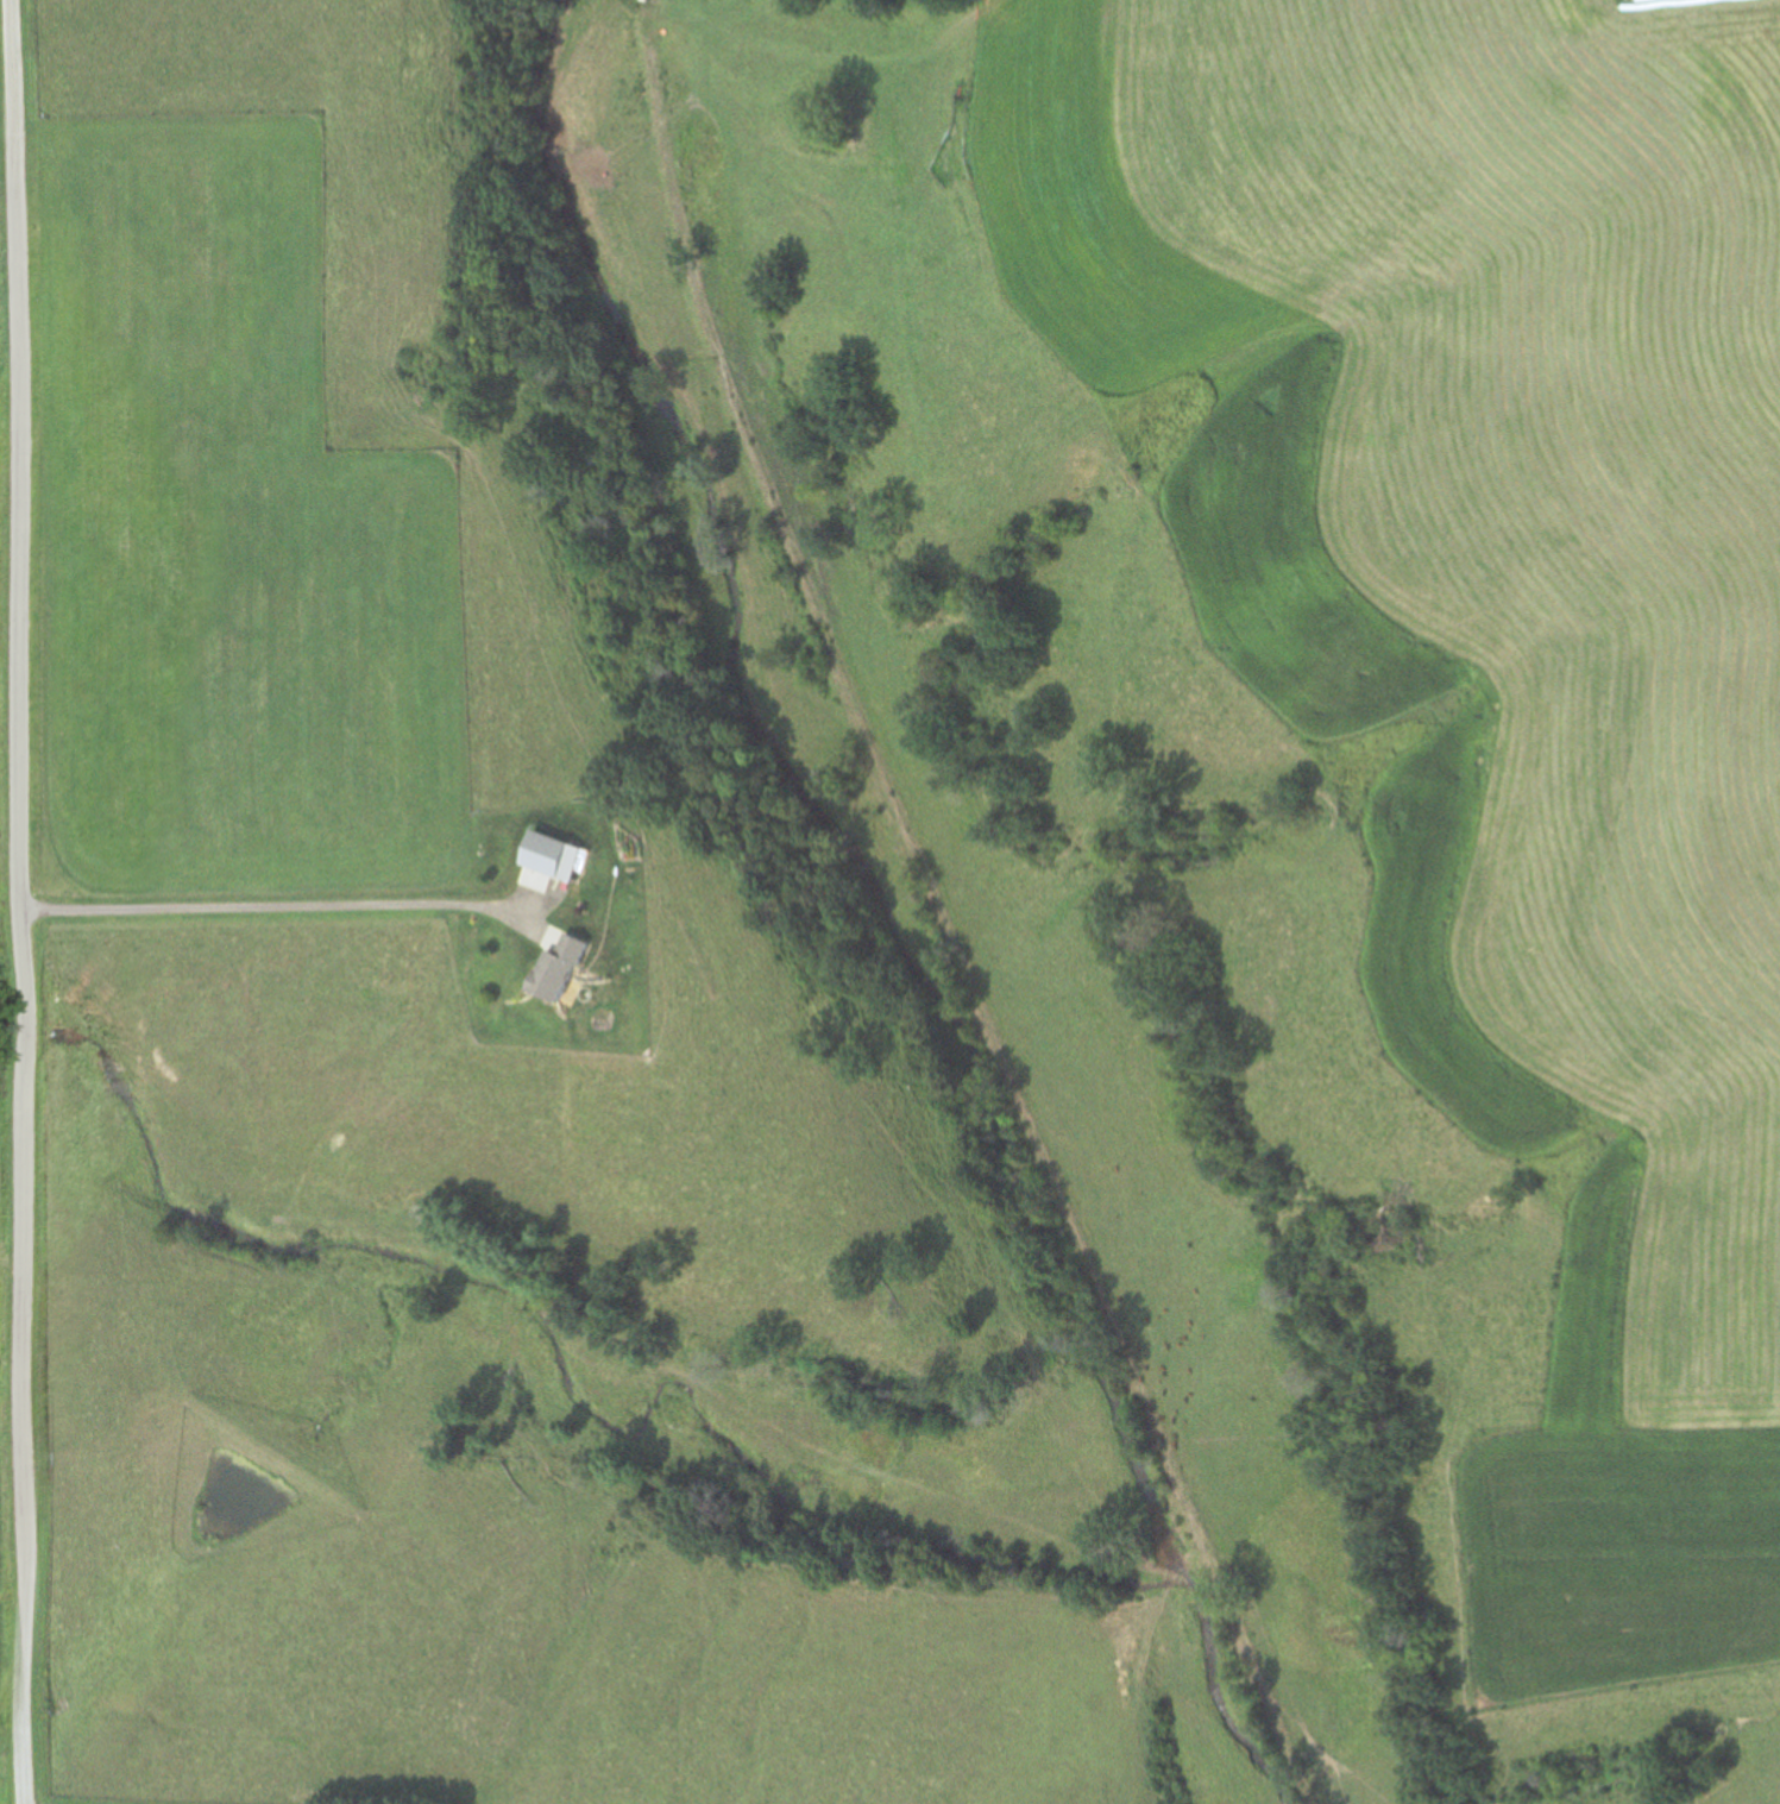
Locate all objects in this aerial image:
building: (555, 857)
road: (19, 901)
road: (281, 905)
building: (559, 969)

